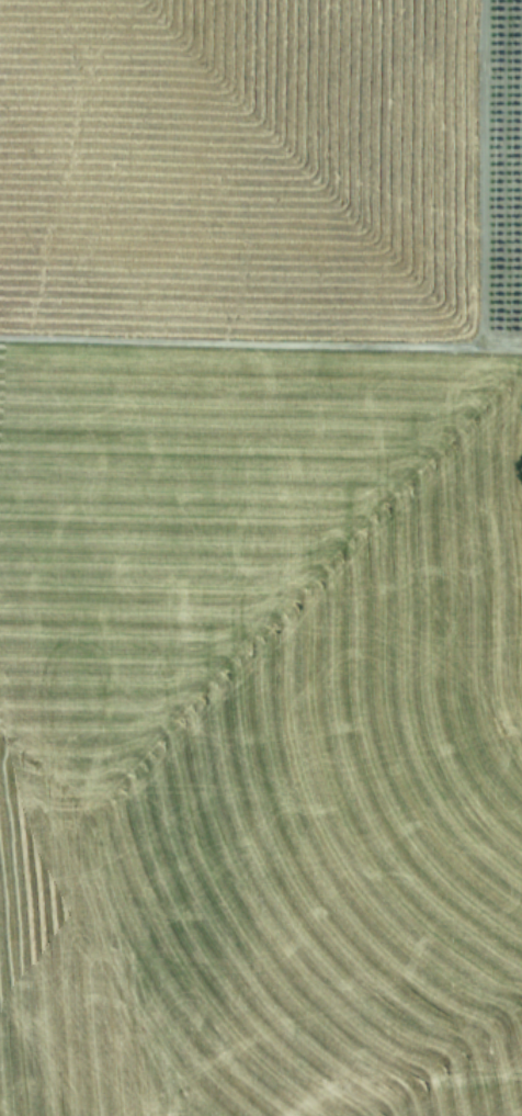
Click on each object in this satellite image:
crop: (261, 557)

